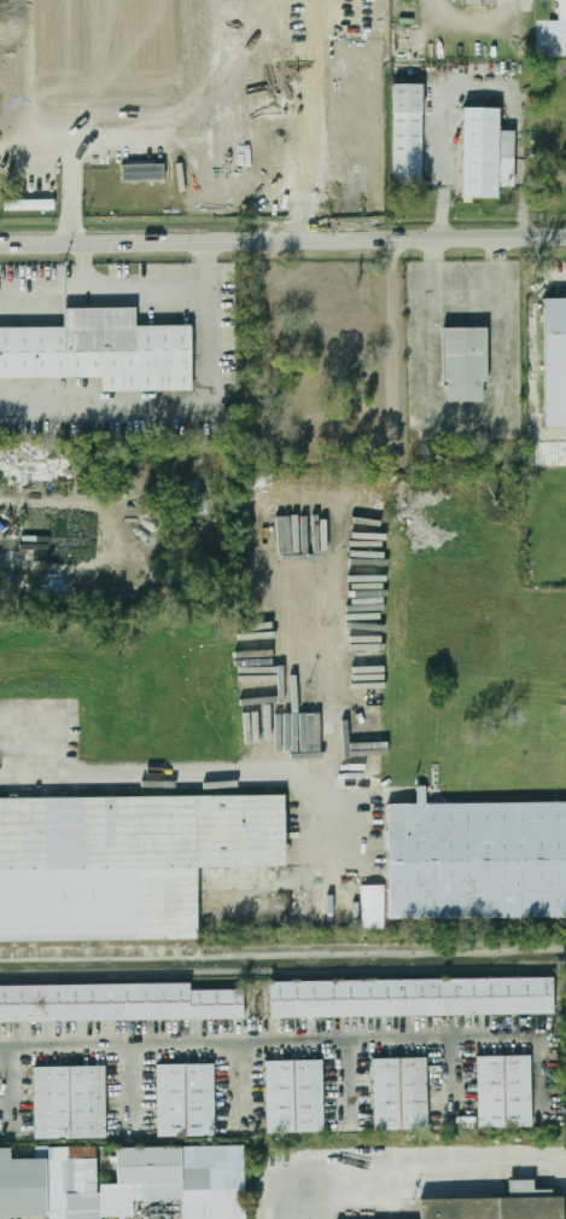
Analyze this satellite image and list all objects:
building: (480, 2)
building: (562, 10)
building: (13, 12)
road: (479, 19)
building: (14, 62)
road: (485, 79)
building: (196, 88)
building: (117, 114)
road: (161, 116)
building: (170, 120)
road: (66, 121)
building: (408, 134)
road: (48, 147)
building: (485, 155)
building: (142, 172)
building: (48, 186)
road: (282, 240)
road: (562, 279)
road: (144, 283)
road: (42, 289)
building: (100, 352)
building: (555, 355)
building: (462, 364)
road: (161, 404)
road: (559, 431)
road: (342, 768)
road: (198, 772)
building: (477, 859)
building: (123, 861)
building: (373, 906)
building: (412, 995)
building: (117, 1002)
road: (264, 1041)
building: (504, 1091)
building: (399, 1093)
building: (294, 1096)
building: (185, 1099)
building: (70, 1102)
road: (396, 1160)
building: (123, 1182)
building: (492, 1207)

